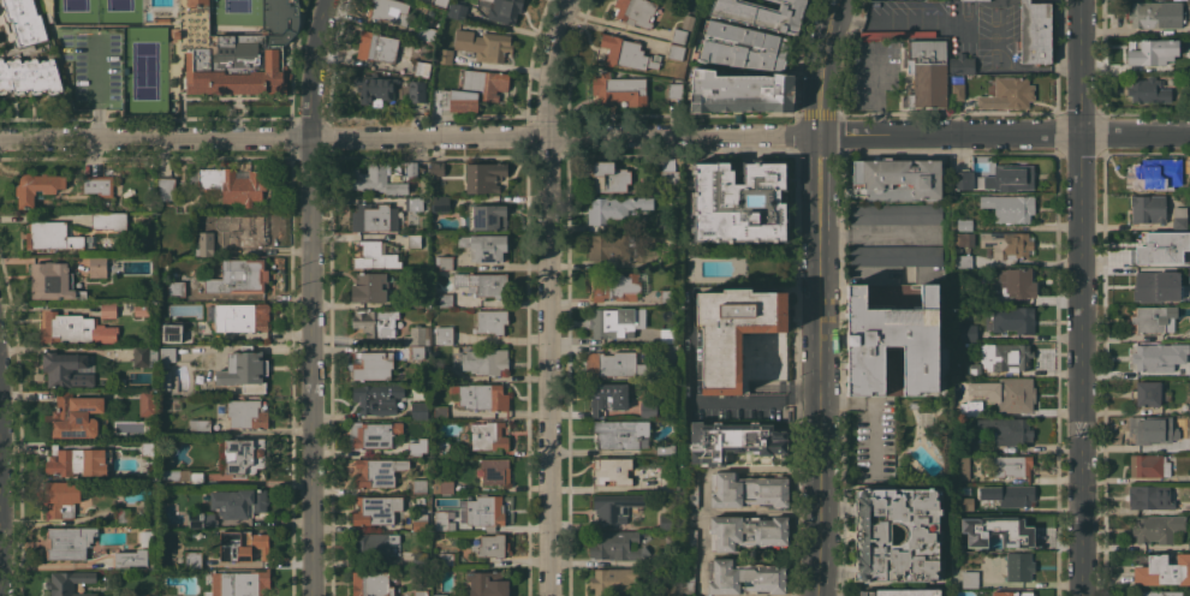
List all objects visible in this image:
building: (439, 2)
building: (691, 5)
building: (389, 10)
building: (505, 10)
building: (457, 11)
park: (73, 12)
park: (118, 12)
building: (636, 12)
park: (236, 13)
building: (762, 13)
building: (1155, 14)
building: (24, 20)
building: (161, 20)
building: (686, 22)
building: (1189, 28)
building: (422, 31)
building: (1034, 31)
building: (897, 34)
road: (1078, 34)
building: (678, 35)
building: (484, 44)
building: (376, 47)
building: (740, 47)
building: (1153, 49)
building: (236, 50)
building: (676, 52)
building: (626, 53)
building: (444, 55)
building: (960, 64)
parking lot: (93, 66)
road: (819, 66)
building: (421, 67)
park: (143, 68)
road: (1049, 68)
building: (927, 72)
building: (30, 76)
road: (96, 88)
building: (374, 88)
building: (957, 88)
building: (618, 89)
road: (875, 89)
building: (416, 90)
building: (472, 90)
building: (674, 90)
building: (1148, 90)
building: (739, 93)
building: (1006, 93)
road: (1002, 132)
road: (407, 136)
building: (411, 168)
building: (436, 168)
building: (666, 172)
building: (1158, 173)
building: (484, 177)
building: (609, 177)
building: (376, 178)
building: (897, 178)
building: (1007, 178)
building: (962, 179)
building: (1189, 183)
building: (99, 184)
building: (232, 184)
building: (36, 187)
building: (165, 189)
building: (739, 201)
building: (439, 203)
building: (418, 204)
building: (1008, 207)
building: (614, 208)
building: (1147, 209)
building: (894, 213)
building: (370, 216)
building: (487, 216)
building: (1179, 217)
building: (108, 220)
building: (964, 223)
building: (246, 231)
road: (877, 232)
building: (55, 236)
building: (963, 238)
building: (413, 240)
building: (1011, 244)
building: (1155, 244)
building: (203, 246)
building: (483, 246)
building: (608, 248)
building: (894, 255)
building: (375, 256)
building: (1189, 260)
building: (667, 261)
building: (444, 262)
building: (97, 266)
building: (1184, 274)
building: (238, 276)
building: (50, 280)
building: (1017, 282)
building: (483, 284)
building: (615, 286)
building: (368, 287)
building: (1149, 287)
building: (175, 288)
road: (547, 296)
road: (309, 297)
building: (667, 297)
building: (442, 299)
building: (415, 302)
building: (108, 309)
building: (141, 309)
building: (240, 316)
building: (1012, 318)
building: (1153, 318)
building: (374, 321)
building: (490, 321)
building: (615, 322)
building: (75, 329)
building: (172, 332)
building: (733, 332)
road: (1079, 332)
building: (667, 333)
building: (968, 333)
building: (417, 335)
building: (441, 335)
building: (891, 345)
building: (417, 352)
building: (671, 352)
building: (144, 356)
building: (166, 356)
building: (1007, 356)
building: (1150, 356)
building: (484, 360)
building: (614, 364)
building: (370, 365)
road: (819, 365)
building: (59, 368)
building: (244, 370)
building: (972, 370)
building: (1189, 370)
building: (163, 380)
building: (1004, 393)
building: (1149, 393)
building: (478, 395)
building: (606, 397)
building: (376, 398)
building: (147, 403)
road: (732, 403)
building: (914, 405)
building: (1189, 406)
building: (972, 407)
building: (418, 410)
building: (648, 410)
road: (875, 410)
building: (439, 411)
building: (245, 413)
building: (72, 416)
building: (198, 425)
building: (1006, 429)
building: (1154, 430)
building: (374, 434)
building: (621, 434)
building: (487, 435)
building: (1189, 440)
building: (736, 443)
building: (968, 445)
building: (426, 447)
building: (441, 447)
building: (141, 448)
building: (415, 448)
building: (664, 448)
building: (244, 454)
building: (75, 463)
building: (1148, 465)
building: (960, 467)
building: (1013, 467)
building: (612, 470)
building: (377, 471)
building: (495, 471)
building: (182, 476)
building: (666, 483)
building: (420, 484)
building: (435, 487)
building: (446, 487)
building: (690, 487)
building: (746, 490)
building: (1013, 495)
building: (1152, 496)
building: (61, 499)
building: (238, 502)
building: (963, 503)
building: (617, 506)
building: (376, 509)
building: (484, 512)
building: (123, 517)
building: (201, 519)
building: (418, 520)
building: (440, 520)
building: (666, 521)
building: (1012, 528)
building: (1156, 528)
building: (689, 530)
building: (746, 531)
building: (871, 535)
building: (67, 542)
building: (966, 543)
building: (242, 544)
building: (1189, 544)
building: (373, 546)
building: (492, 546)
building: (617, 546)
building: (664, 556)
building: (130, 558)
building: (420, 558)
building: (192, 559)
building: (446, 559)
building: (1018, 566)
building: (1154, 566)
building: (688, 577)
building: (744, 577)
building: (612, 579)
building: (969, 579)
building: (1189, 579)
building: (69, 583)
building: (239, 583)
building: (371, 583)
building: (488, 583)
building: (420, 592)
building: (902, 592)
building: (1010, 592)
building: (1160, 594)
building: (136, 595)
building: (440, 595)

